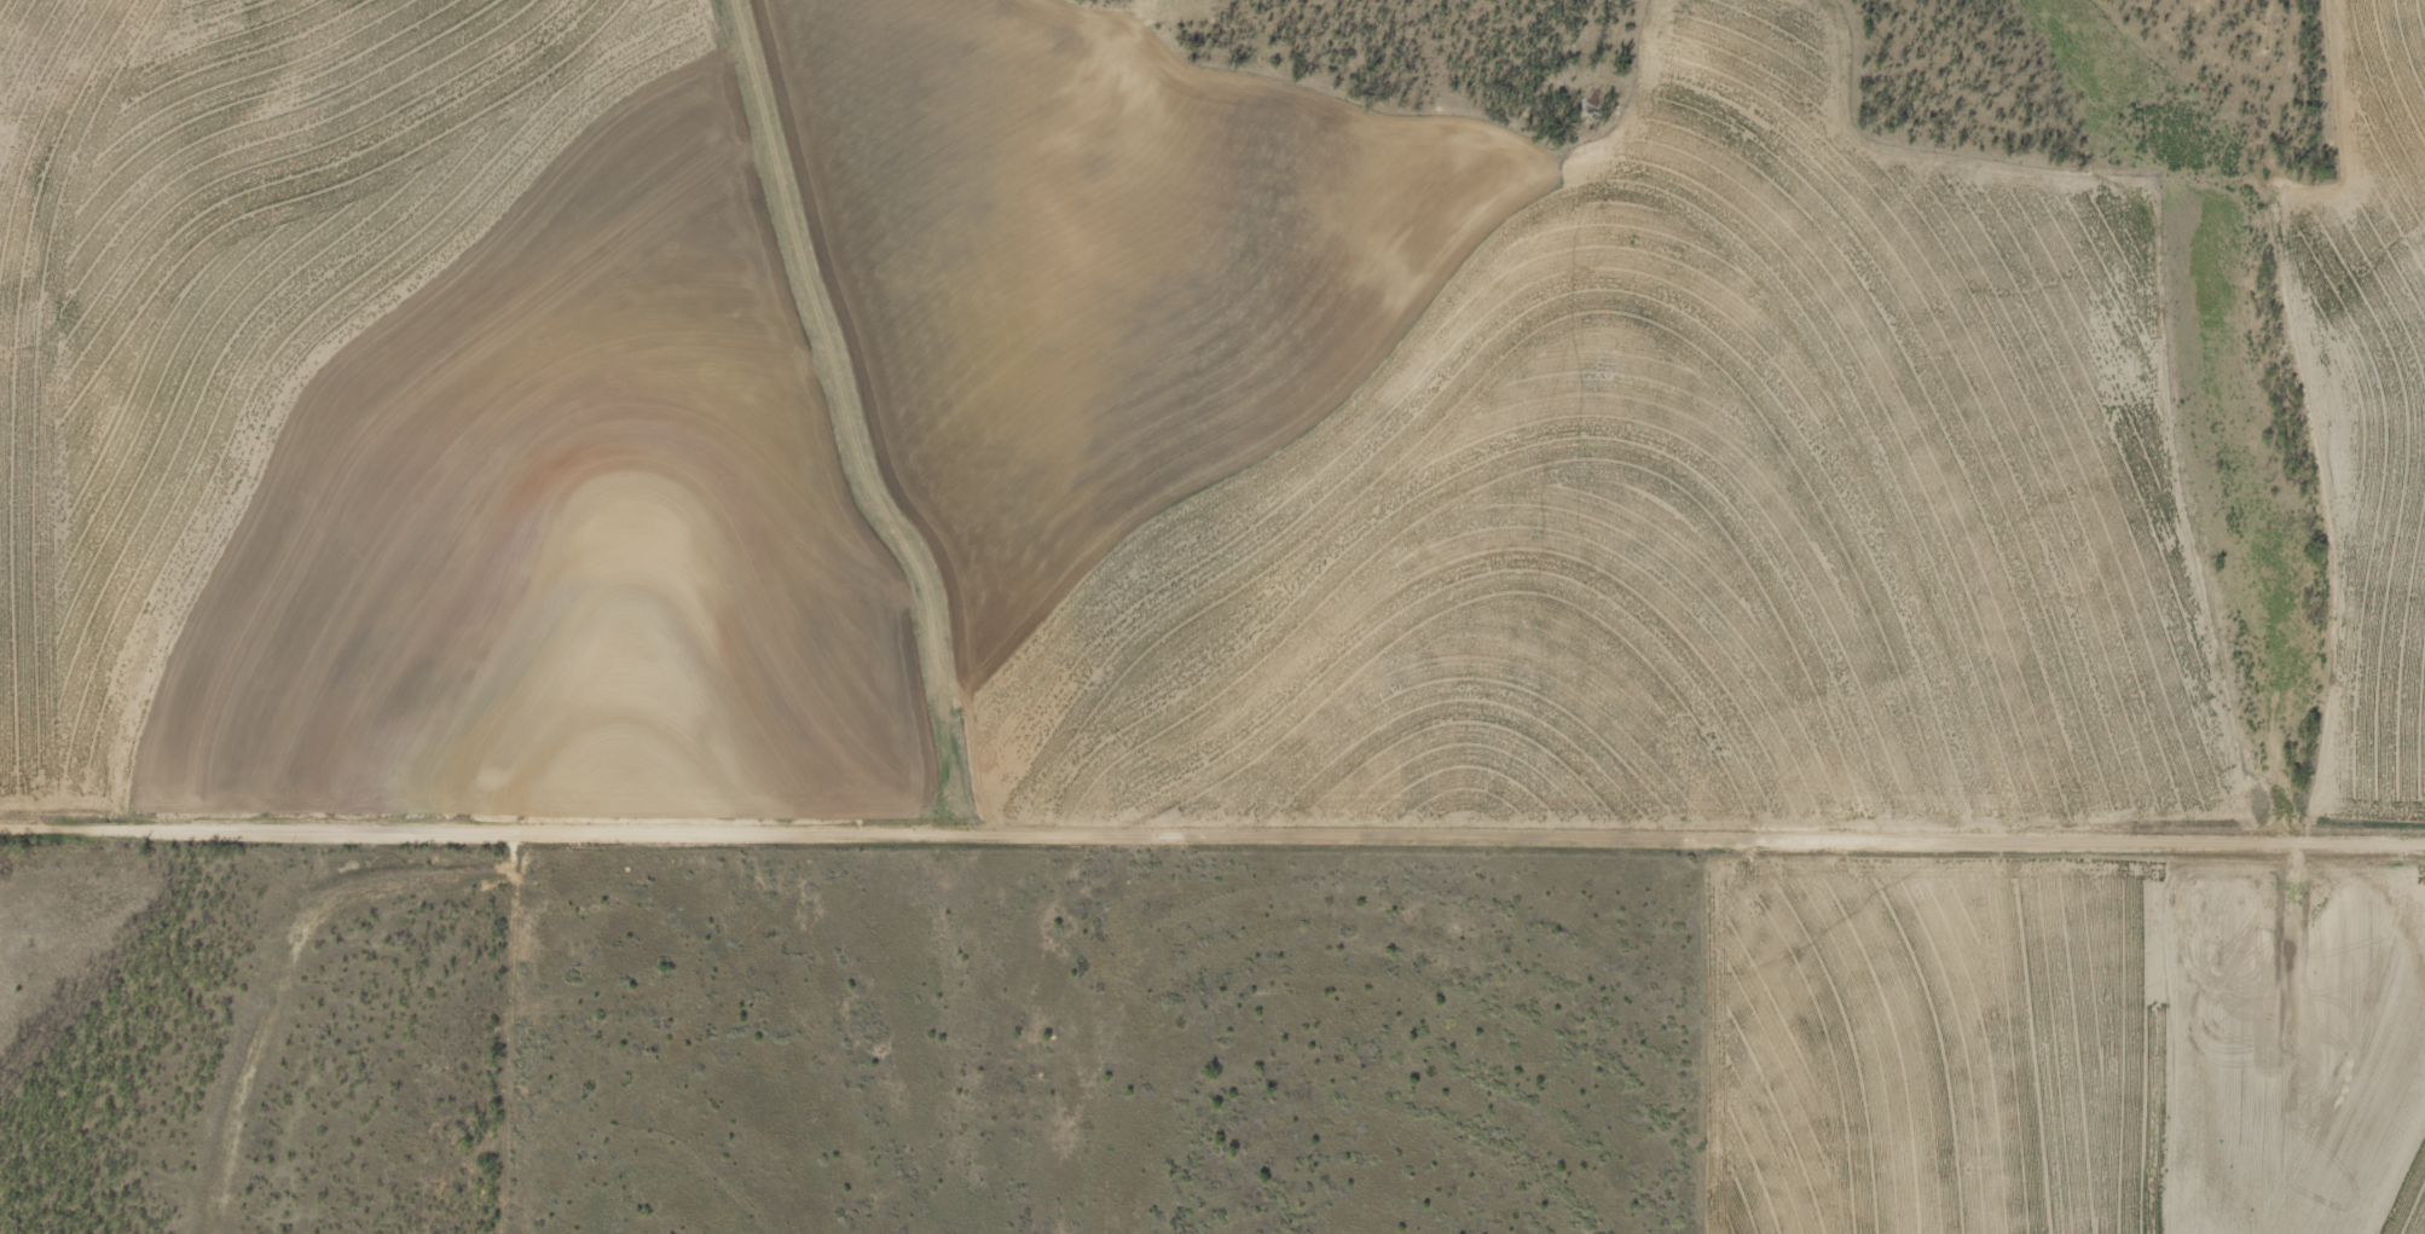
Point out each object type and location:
road: (2304, 416)
road: (1211, 844)
road: (487, 1037)

